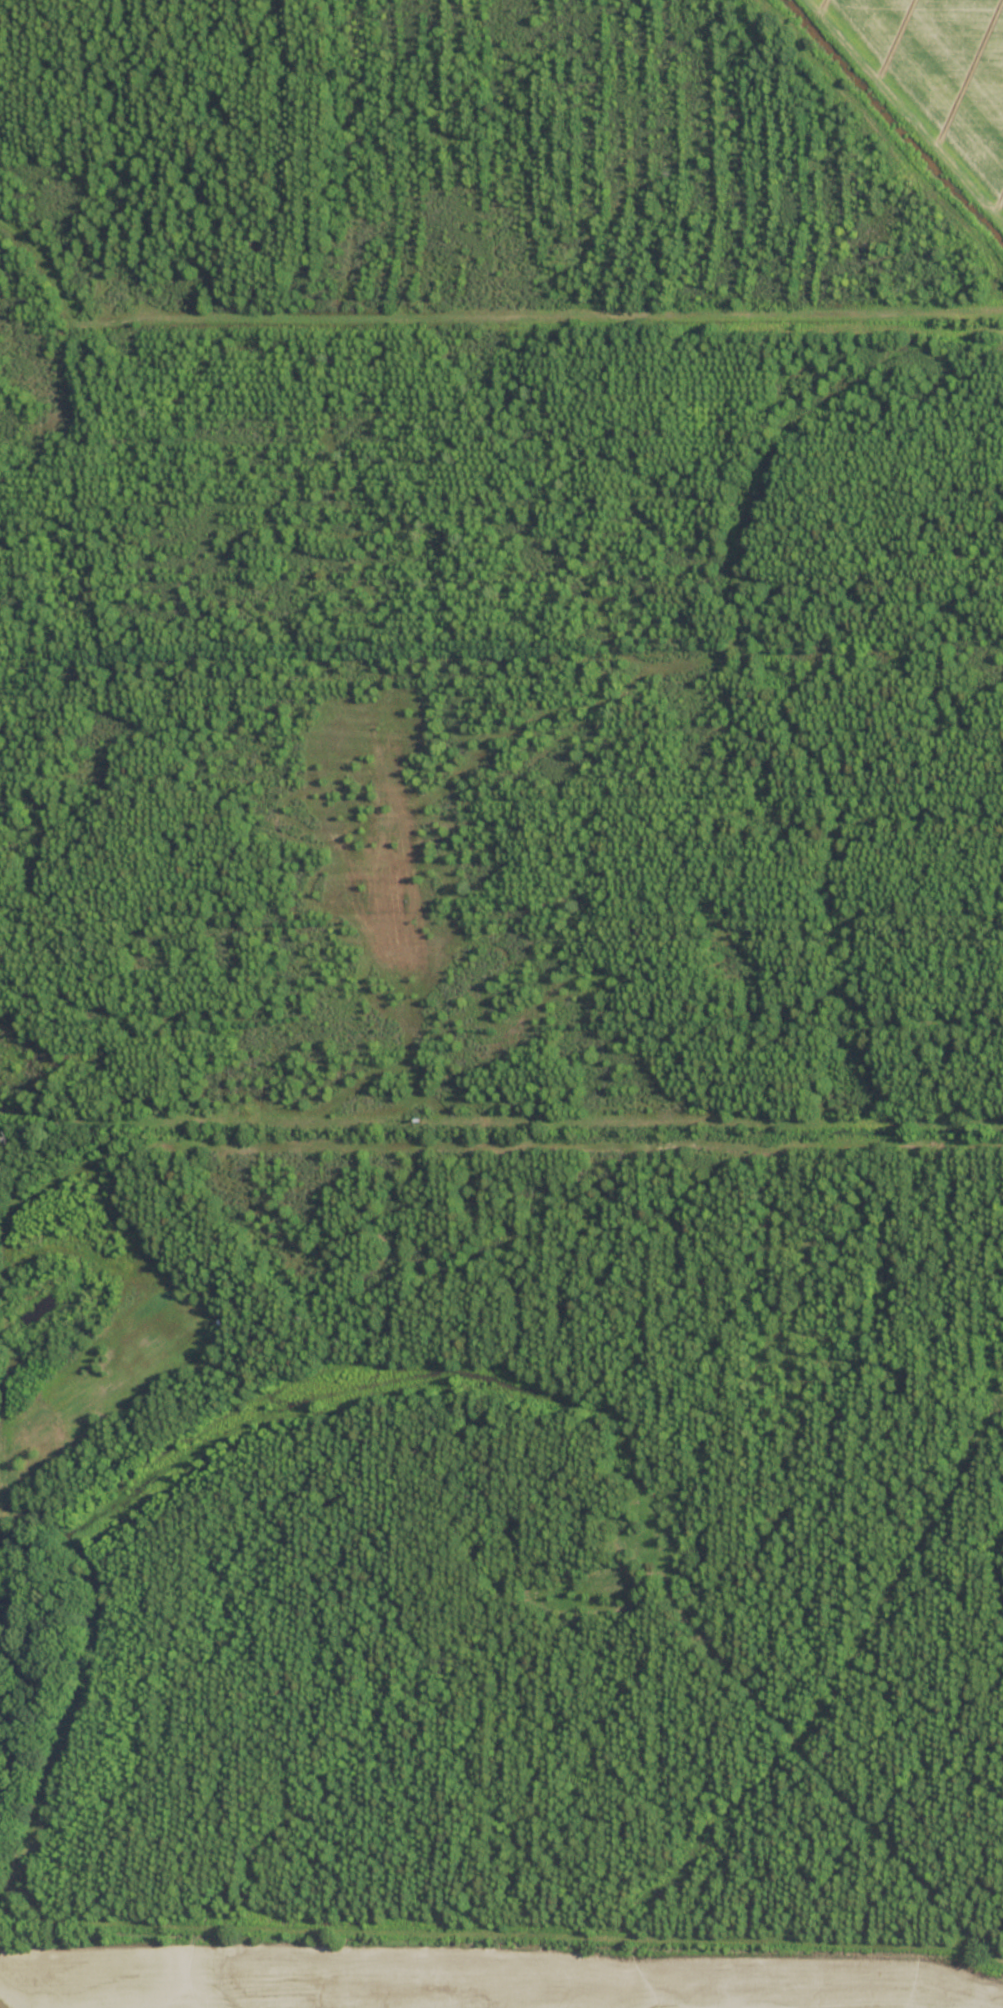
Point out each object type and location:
road: (514, 312)
road: (656, 1555)

